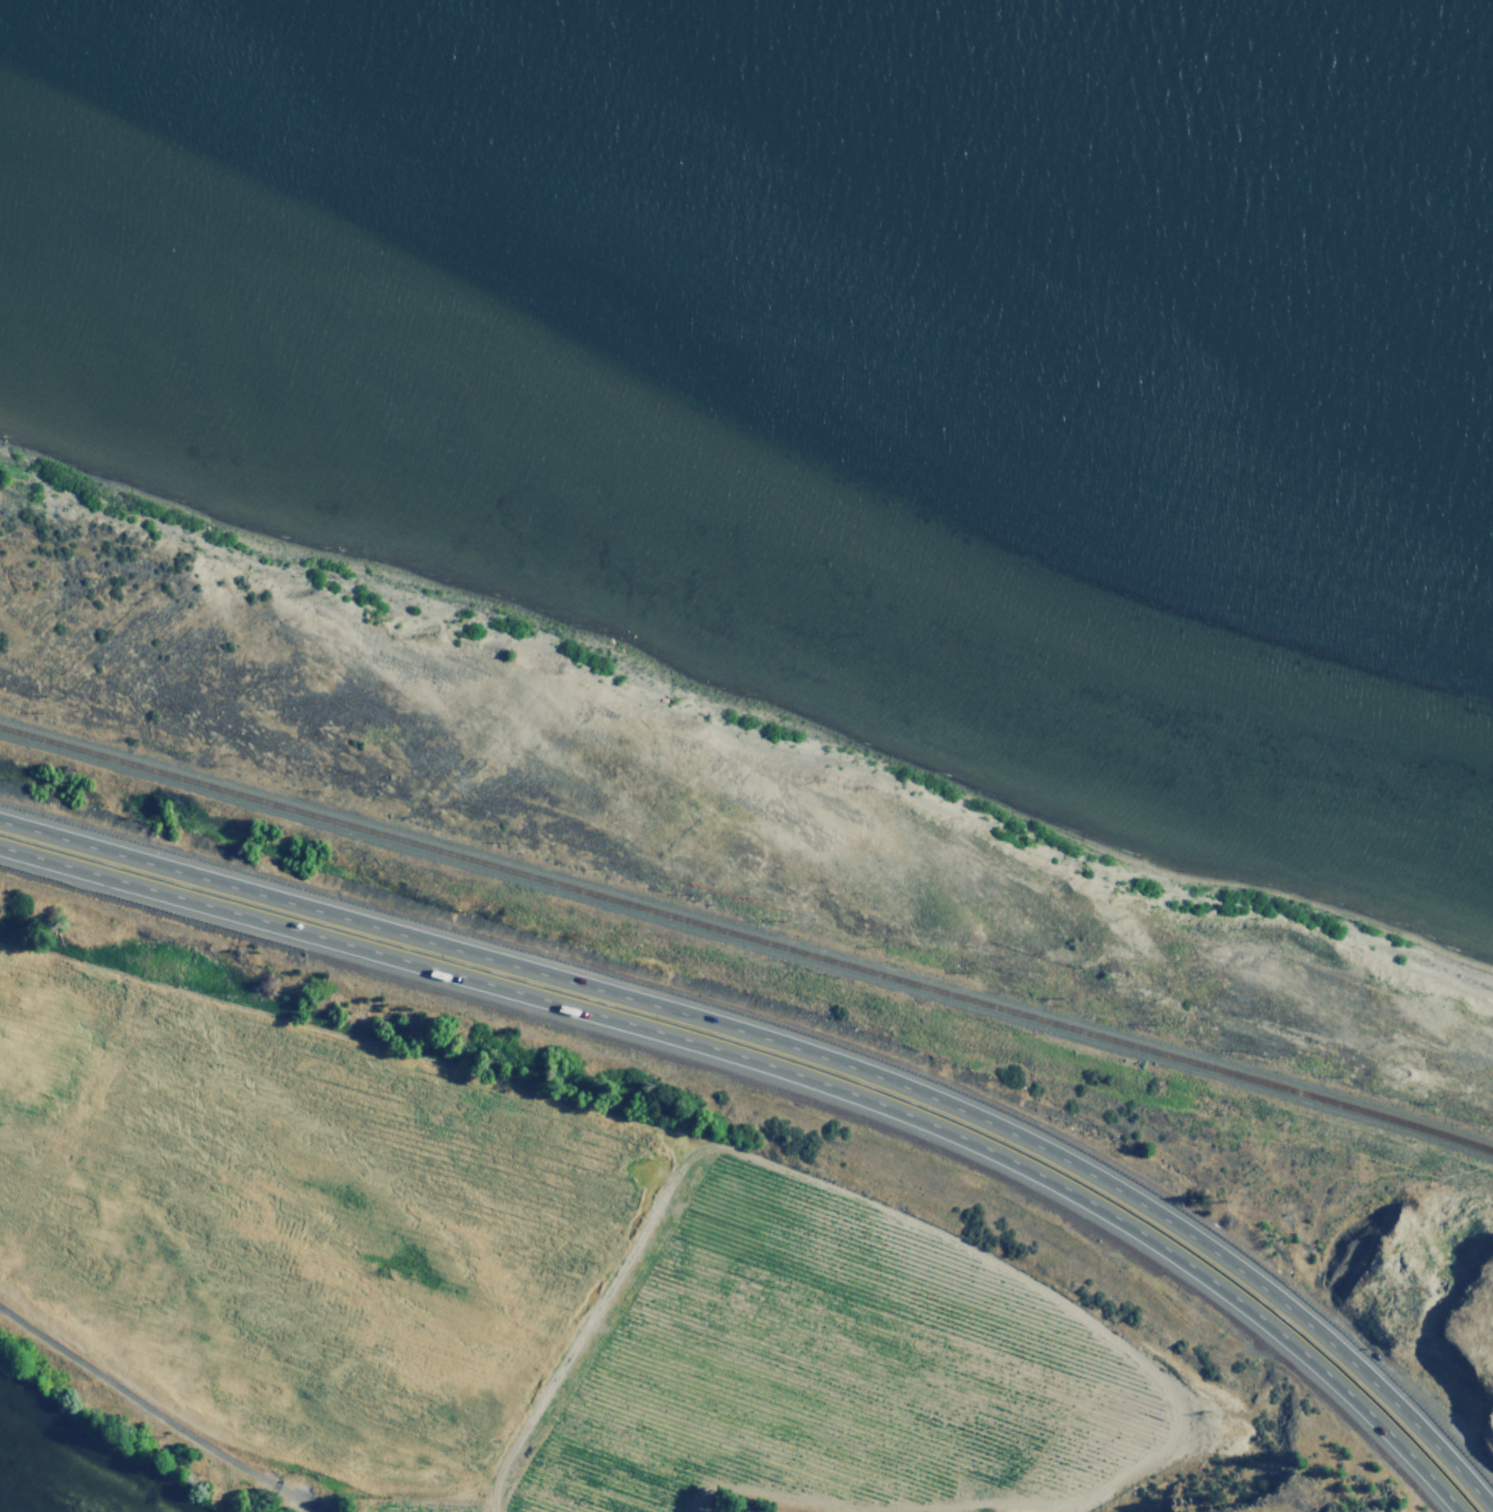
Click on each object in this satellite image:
railway: (747, 937)
road: (805, 1052)
road: (783, 1070)
road: (160, 1416)

